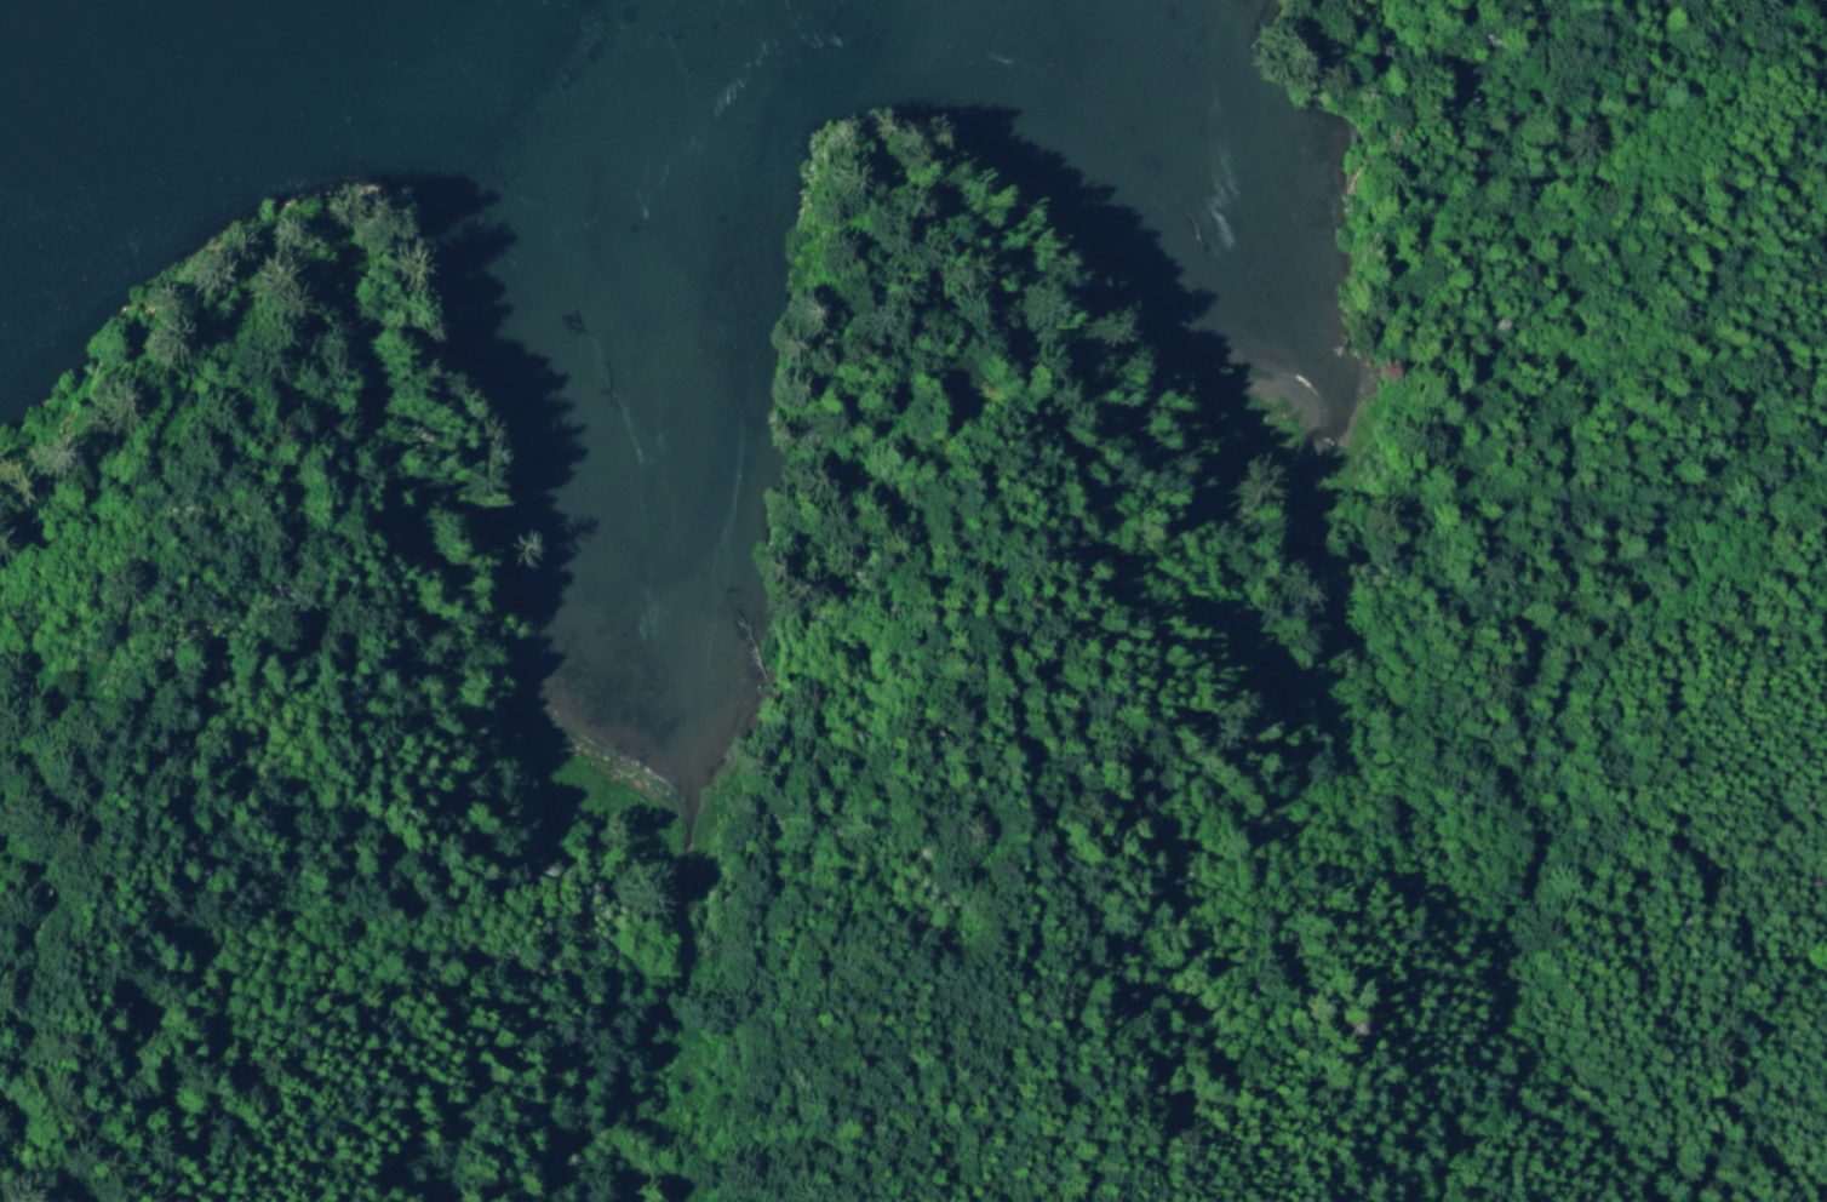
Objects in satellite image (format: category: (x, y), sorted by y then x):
road: (1655, 376)
road: (323, 977)
road: (1254, 1042)

